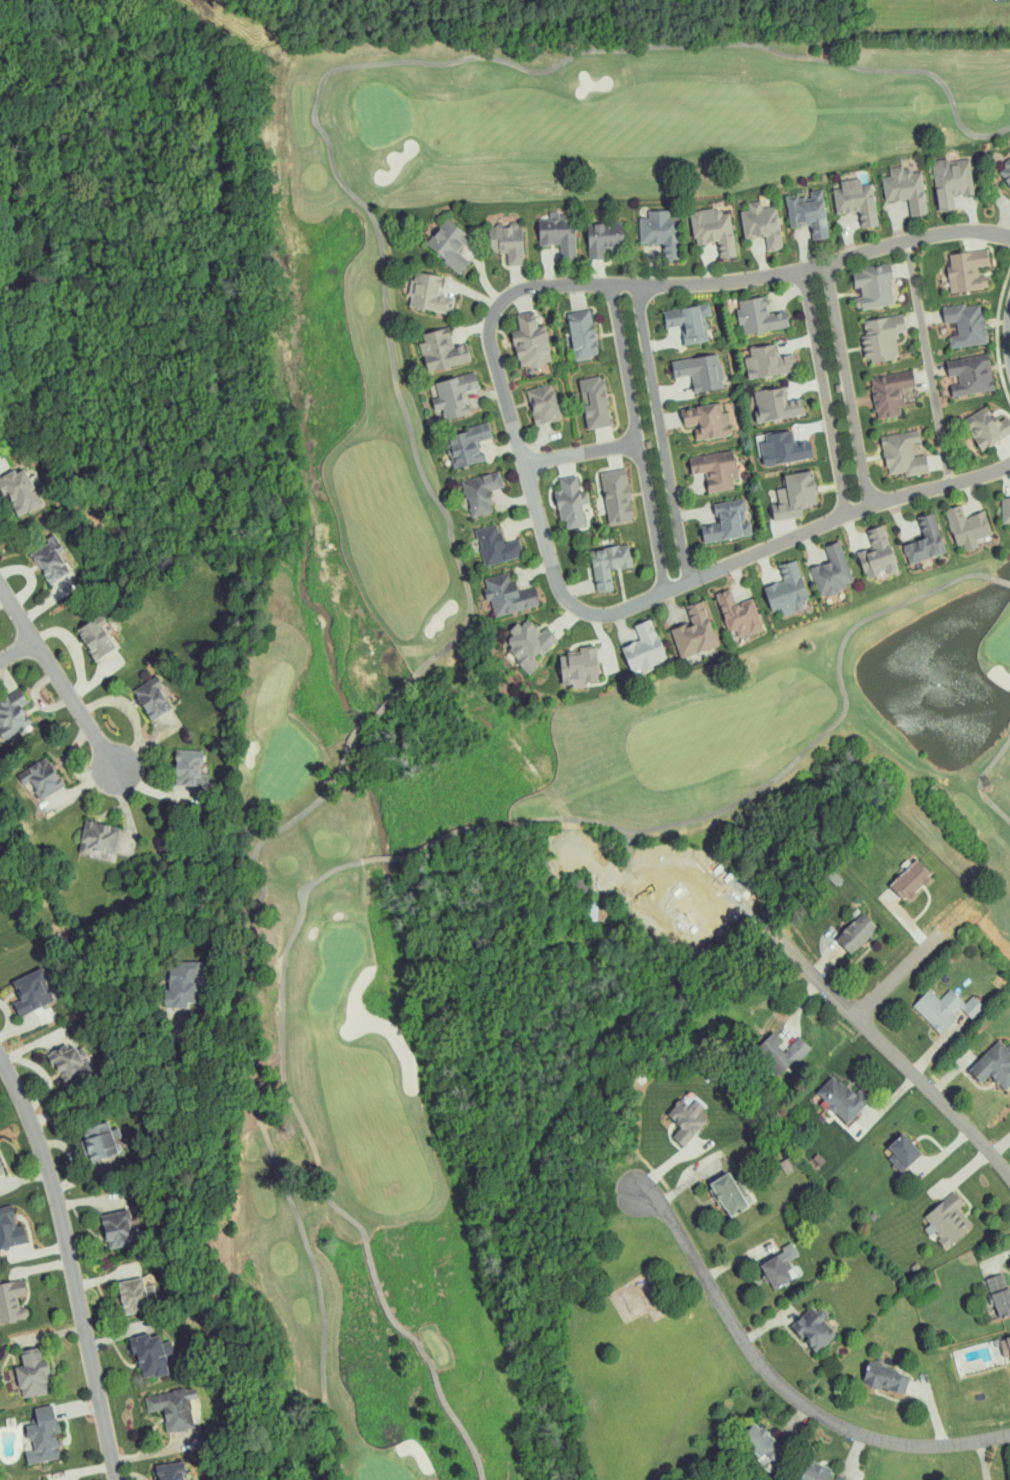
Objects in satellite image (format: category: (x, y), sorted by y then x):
building: (1001, 170)
building: (936, 175)
building: (891, 182)
building: (842, 194)
building: (790, 202)
building: (747, 218)
building: (699, 223)
building: (643, 224)
building: (805, 226)
building: (543, 228)
building: (588, 231)
building: (491, 235)
building: (433, 238)
building: (953, 263)
road: (652, 266)
road: (549, 269)
road: (597, 272)
road: (482, 275)
building: (858, 281)
building: (414, 287)
building: (744, 310)
building: (674, 316)
building: (951, 318)
road: (471, 328)
building: (567, 328)
building: (867, 331)
road: (1009, 332)
building: (515, 335)
road: (798, 341)
building: (427, 344)
building: (753, 355)
road: (927, 361)
building: (685, 365)
building: (955, 368)
road: (847, 383)
building: (875, 386)
building: (439, 388)
road: (823, 392)
building: (578, 396)
building: (529, 398)
building: (761, 398)
building: (692, 415)
building: (972, 421)
road: (513, 429)
road: (662, 434)
road: (637, 437)
building: (451, 439)
road: (536, 444)
building: (888, 448)
road: (503, 449)
road: (580, 452)
building: (701, 463)
road: (1007, 474)
building: (13, 484)
building: (467, 486)
building: (779, 489)
building: (601, 490)
road: (971, 492)
building: (555, 496)
road: (513, 501)
building: (1000, 504)
road: (898, 515)
building: (713, 516)
building: (953, 520)
road: (522, 525)
road: (850, 531)
building: (910, 534)
building: (481, 540)
road: (810, 546)
building: (863, 548)
building: (37, 554)
building: (593, 558)
building: (818, 565)
road: (765, 566)
road: (535, 570)
building: (771, 583)
building: (493, 589)
road: (17, 604)
building: (724, 608)
building: (679, 626)
building: (80, 631)
building: (513, 638)
road: (602, 642)
building: (629, 642)
road: (18, 643)
building: (563, 661)
building: (136, 693)
park: (501, 693)
road: (81, 702)
building: (5, 705)
building: (170, 761)
building: (25, 773)
building: (82, 833)
building: (894, 874)
building: (841, 927)
road: (919, 956)
building: (159, 980)
building: (14, 988)
building: (931, 1003)
road: (799, 1007)
building: (766, 1047)
building: (51, 1054)
road: (901, 1059)
building: (982, 1060)
road: (132, 1078)
building: (826, 1093)
building: (671, 1115)
building: (80, 1137)
building: (886, 1145)
building: (0, 1172)
building: (728, 1194)
building: (947, 1220)
building: (119, 1227)
building: (10, 1228)
road: (73, 1261)
building: (779, 1266)
building: (136, 1293)
building: (999, 1293)
building: (11, 1300)
building: (813, 1329)
building: (1005, 1346)
building: (150, 1355)
building: (32, 1374)
building: (886, 1378)
road: (781, 1385)
building: (173, 1408)
building: (42, 1435)
building: (763, 1442)
building: (173, 1471)
building: (819, 1473)

